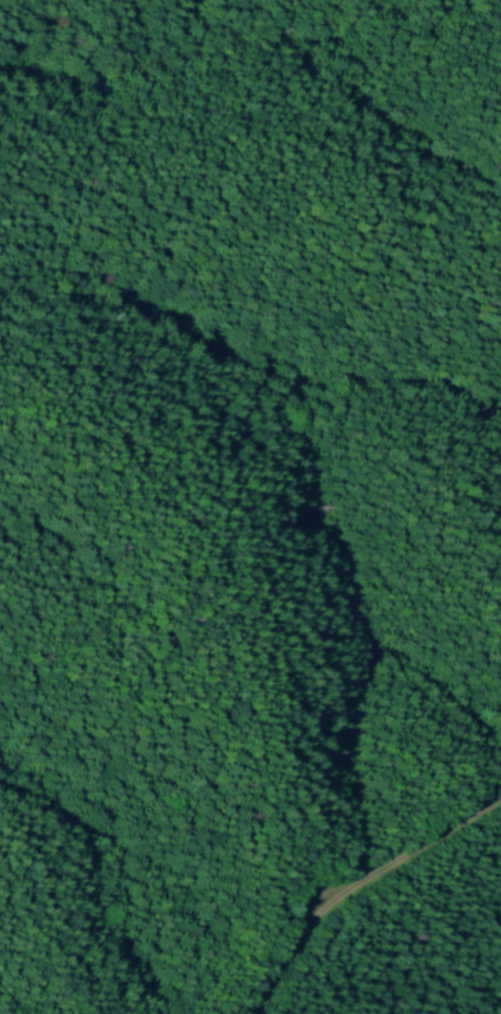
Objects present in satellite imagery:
road: (356, 886)

